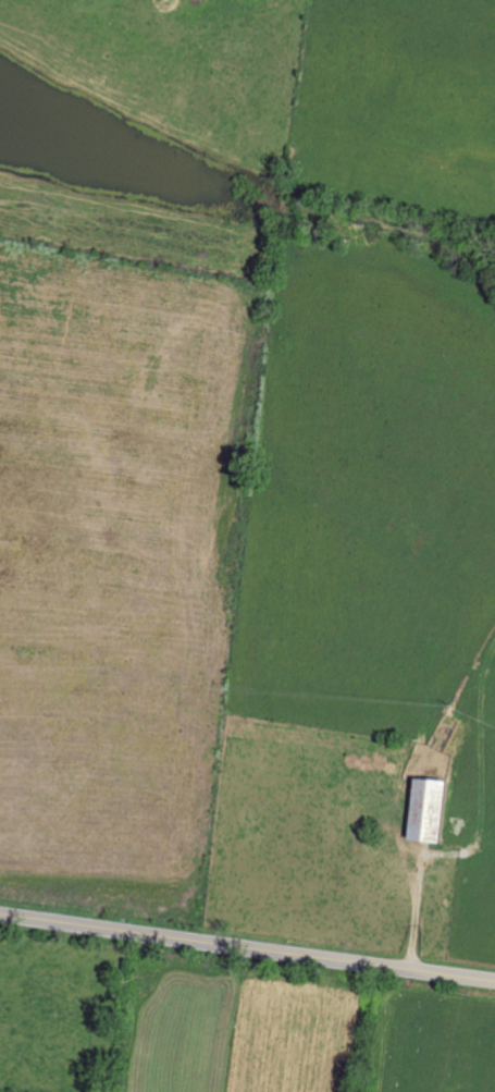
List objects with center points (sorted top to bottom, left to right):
building: (432, 809)
road: (247, 947)

